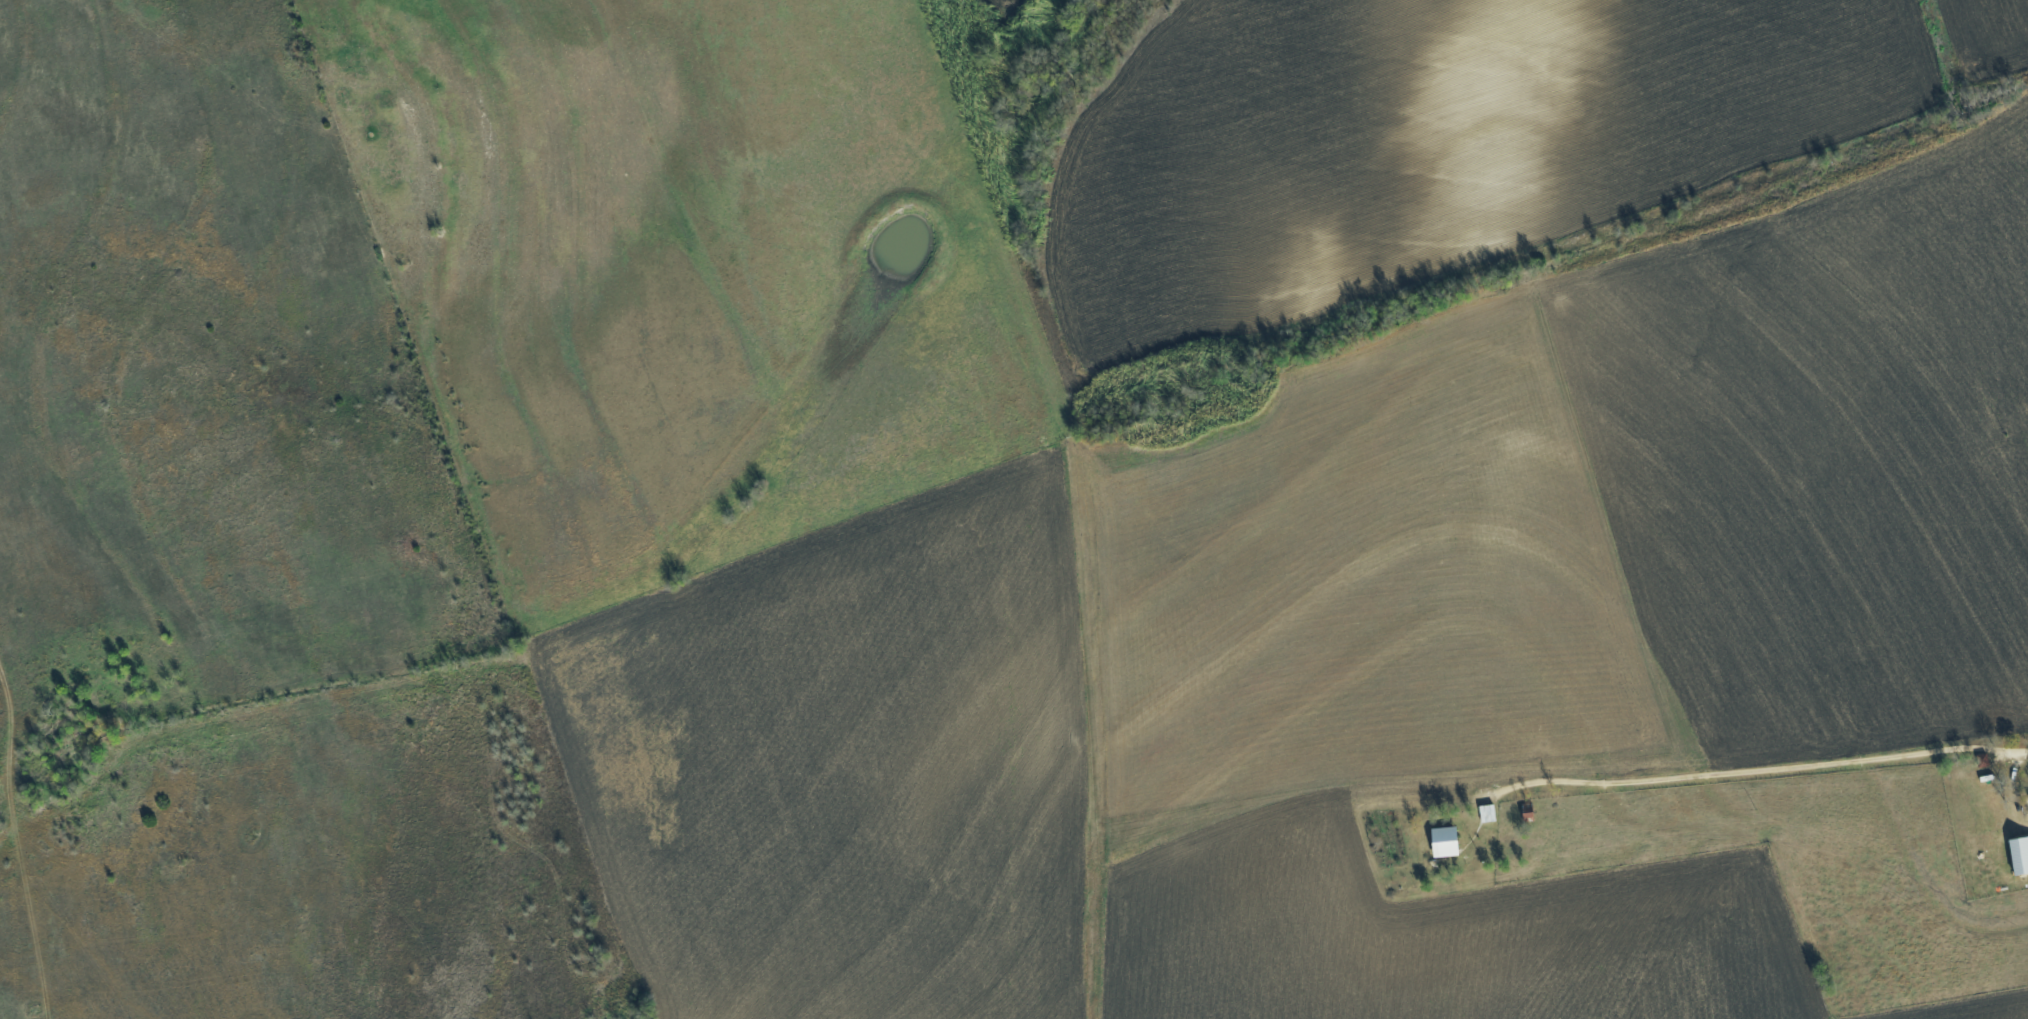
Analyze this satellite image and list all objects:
road: (1760, 774)
building: (1486, 813)
building: (1443, 841)
building: (2019, 855)

